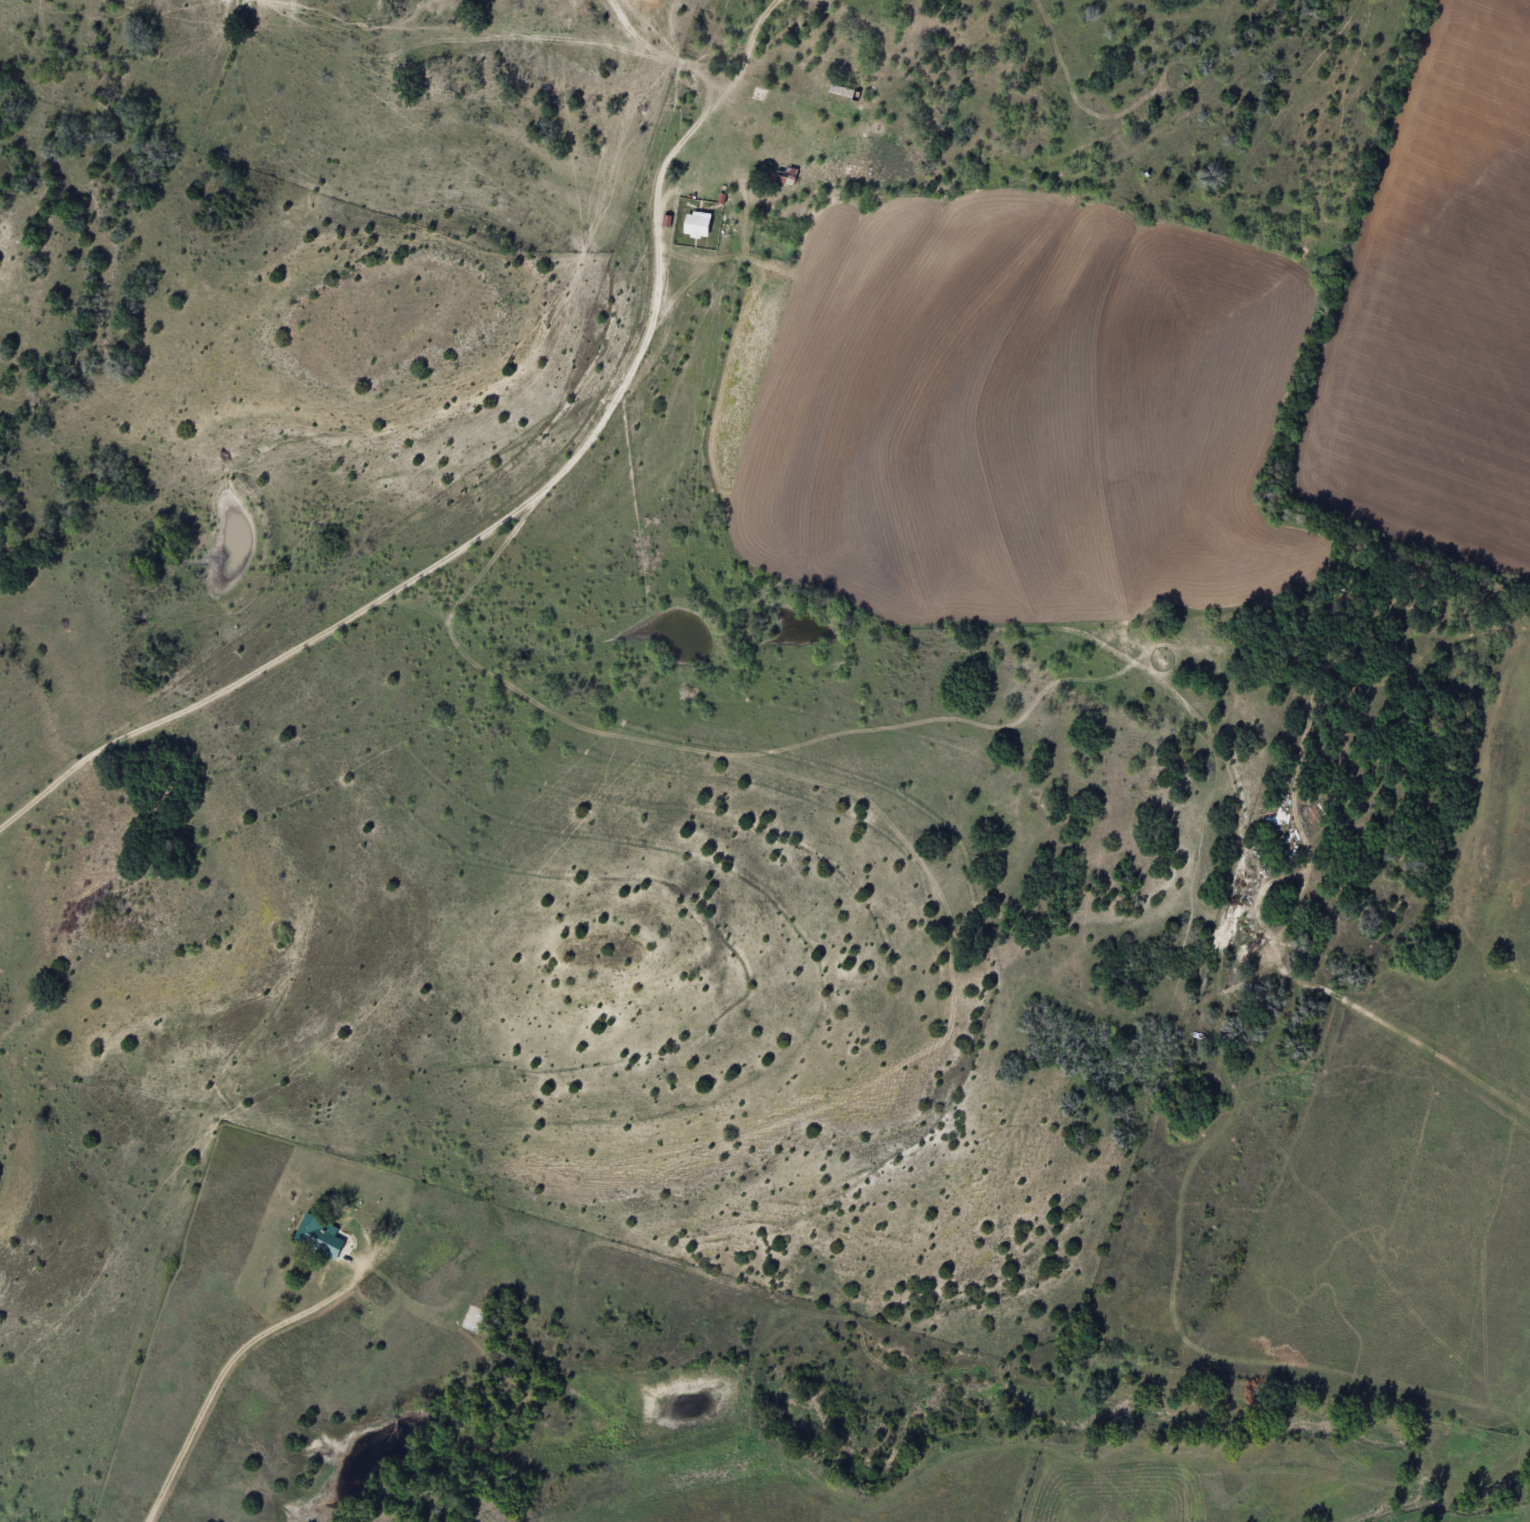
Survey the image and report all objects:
building: (699, 224)
road: (461, 606)
building: (321, 1237)
road: (224, 1367)

